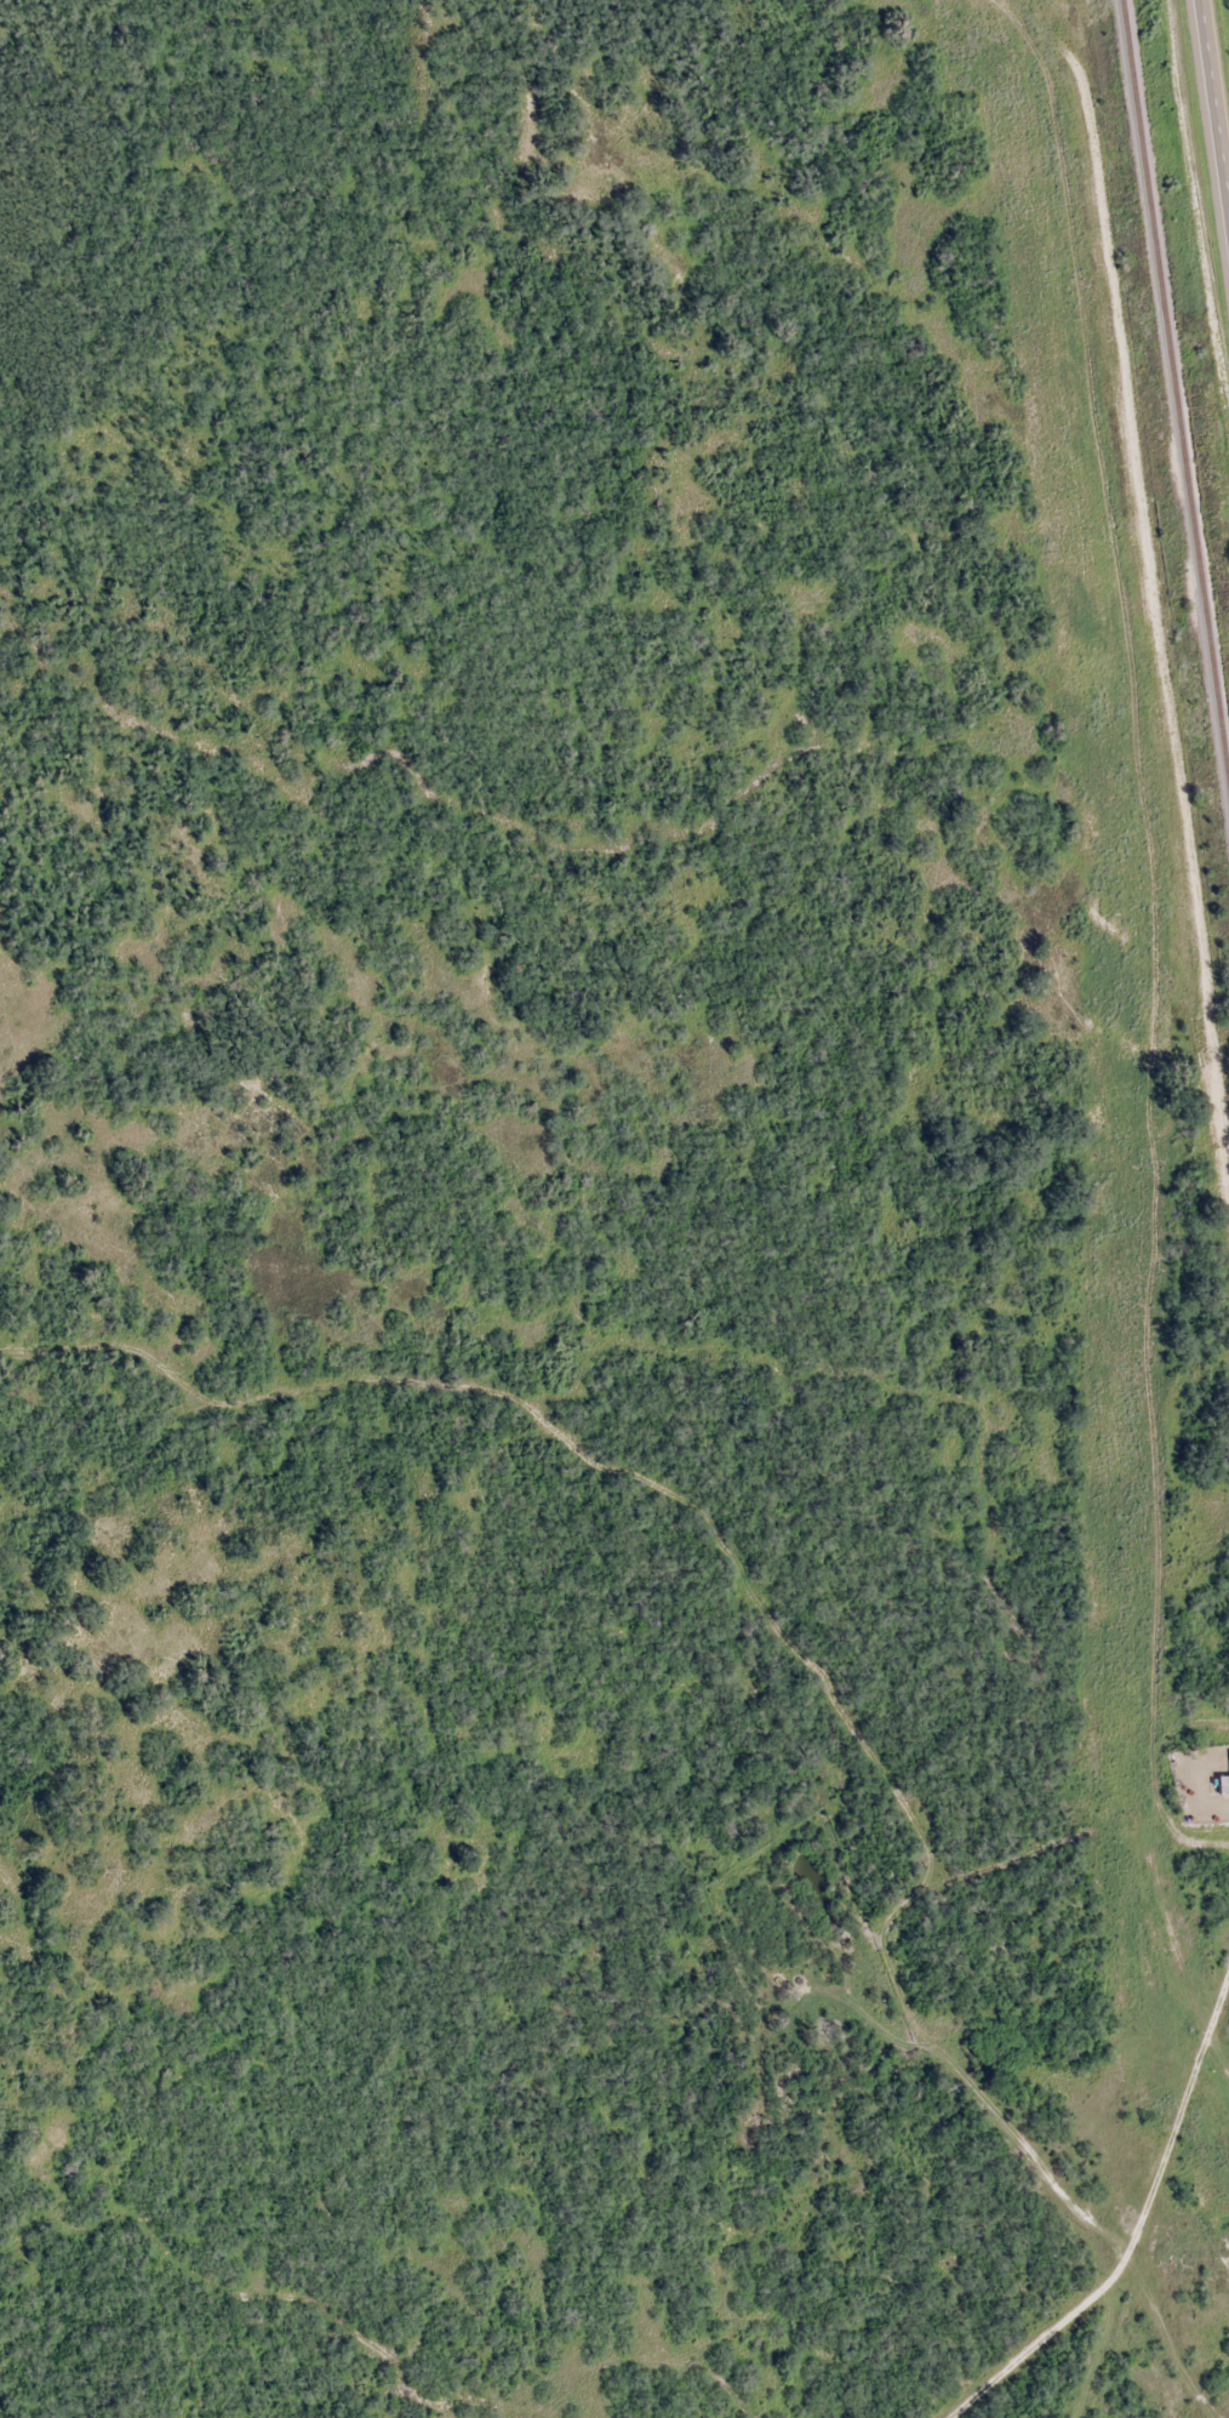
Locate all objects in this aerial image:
road: (1214, 102)
railway: (1173, 406)
building: (1223, 1787)
road: (1136, 2232)

